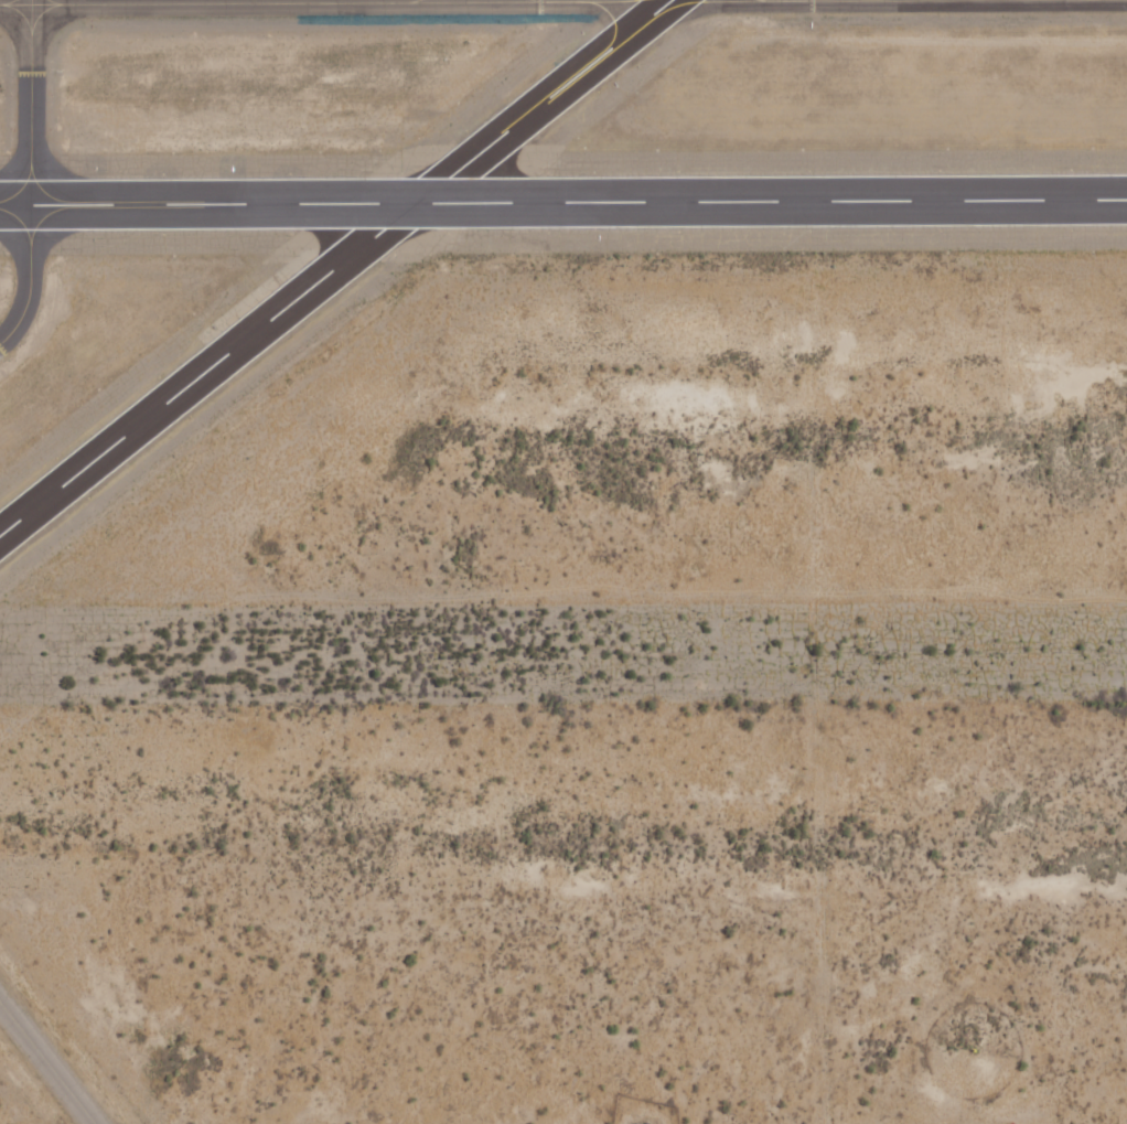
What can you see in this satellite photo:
airport taxiway: (426, 0)
airport taxiway: (253, 2)
airport taxiway: (28, 103)
airport runway: (563, 204)
airport runway: (333, 266)
airport taxiway: (31, 278)
airport taxiway: (45, 1066)

